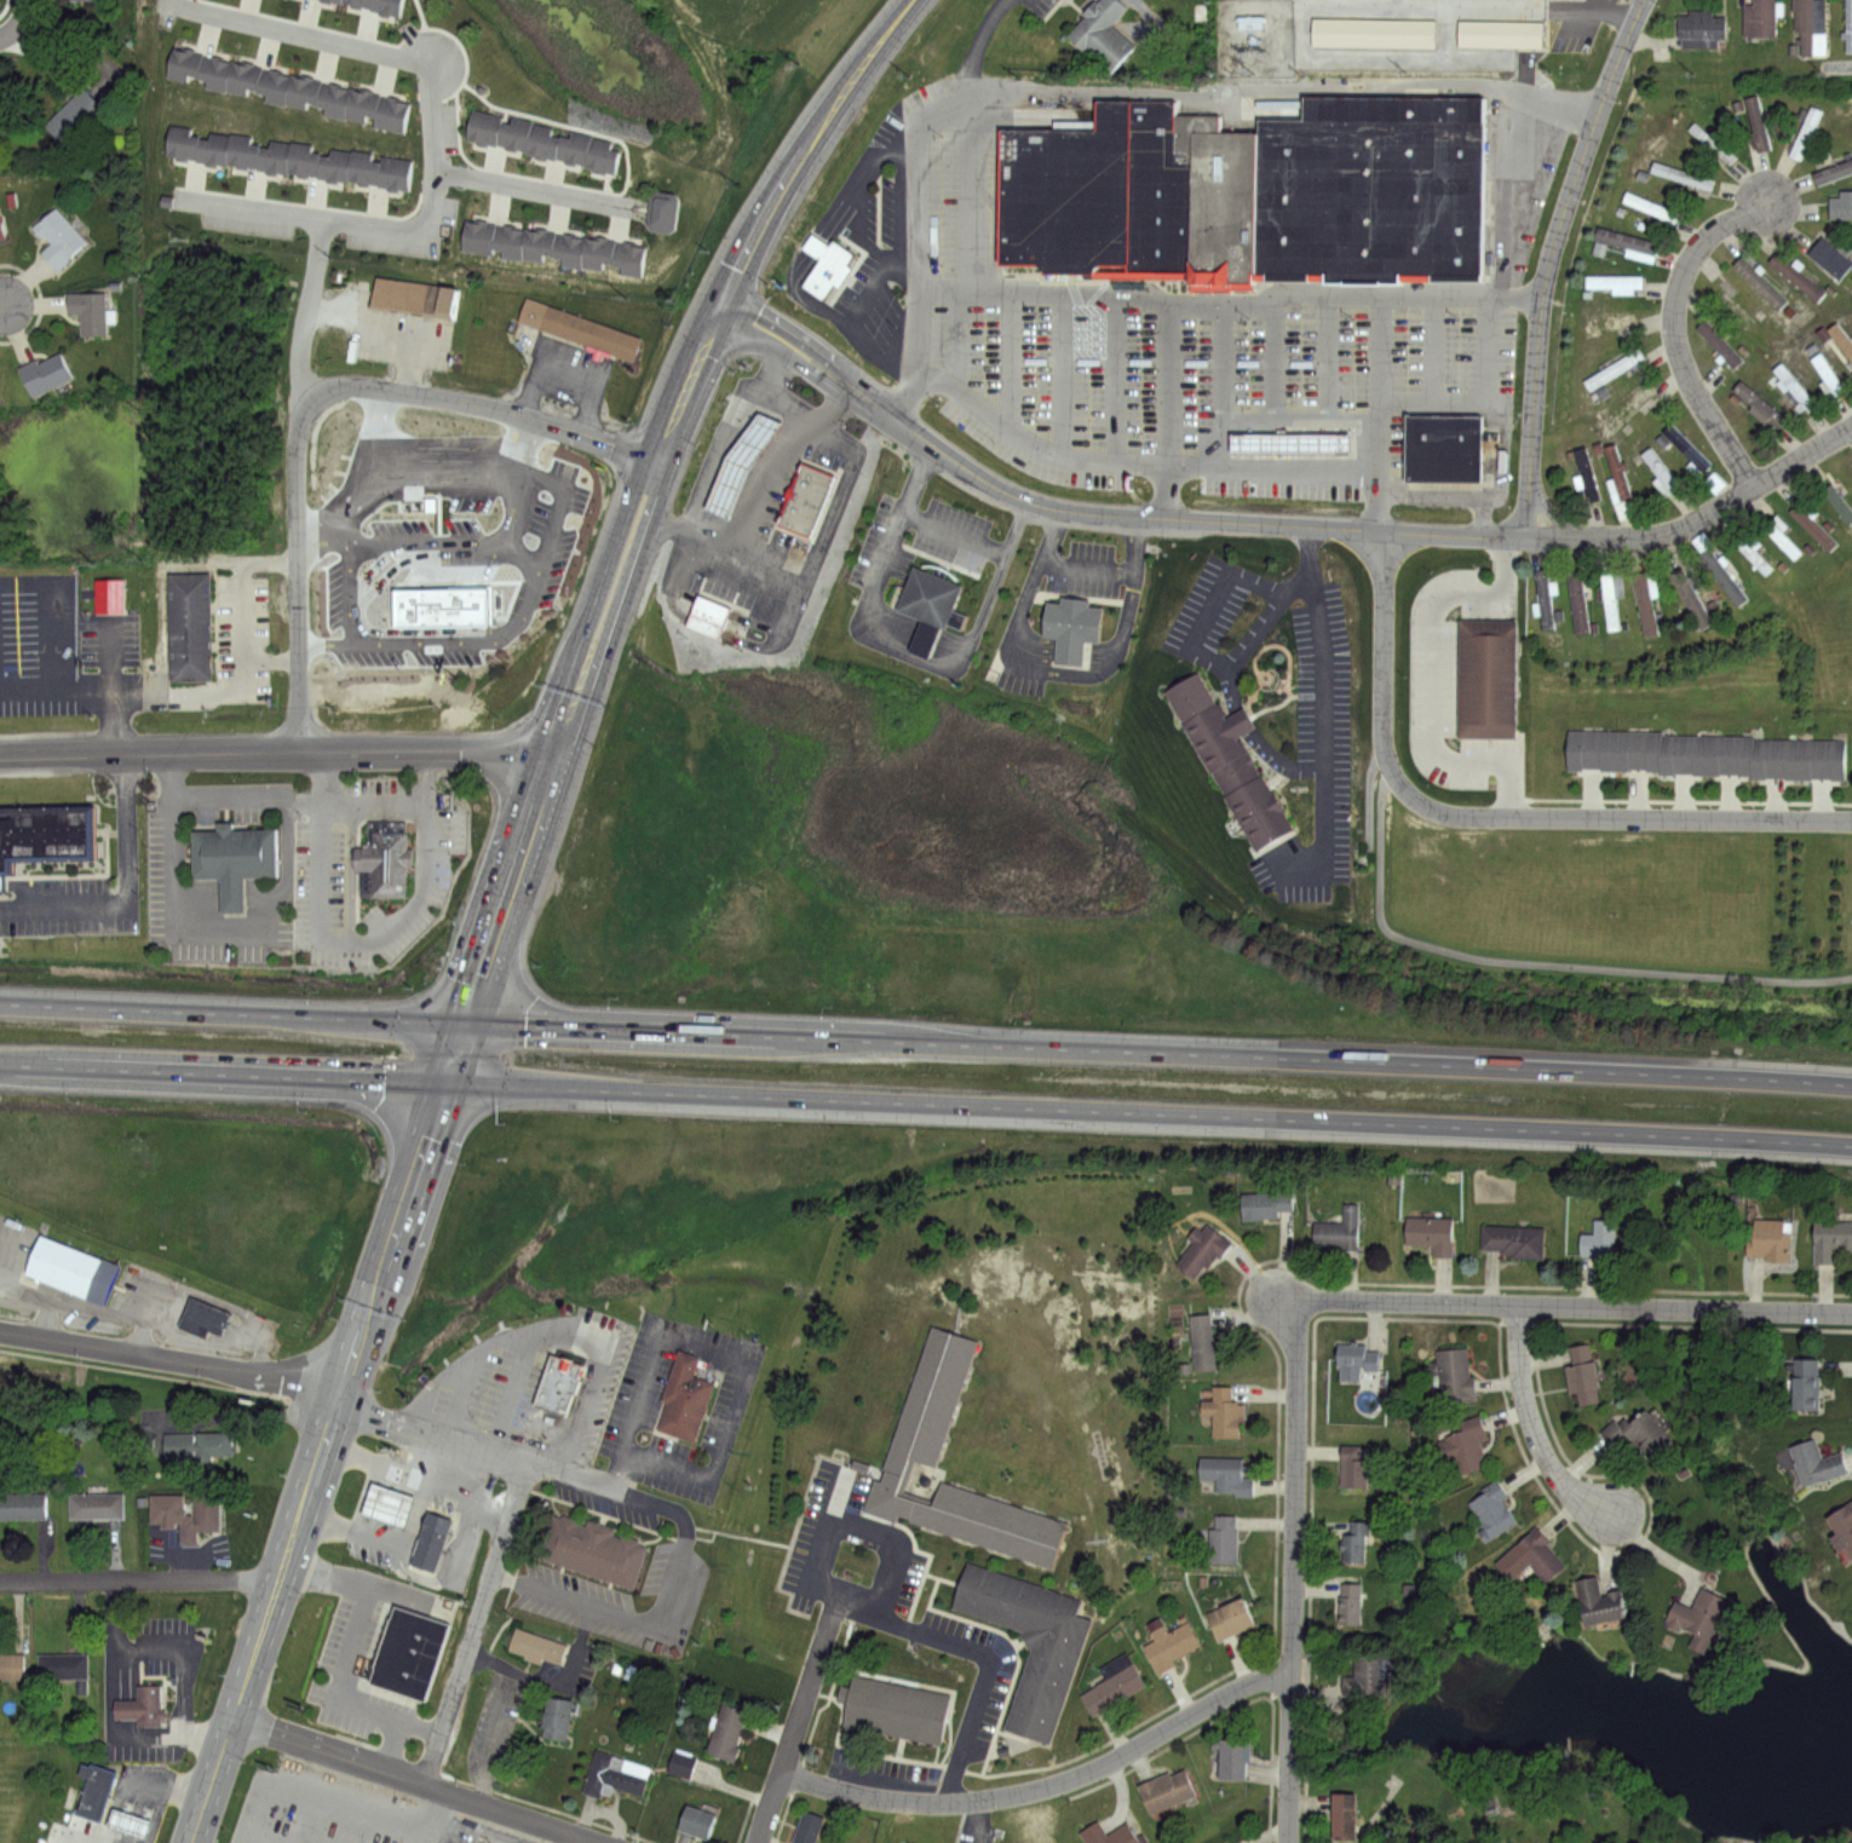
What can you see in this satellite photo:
building: (81, 0)
building: (340, 1)
building: (362, 2)
building: (1500, 4)
building: (391, 6)
road: (22, 17)
building: (1758, 18)
building: (1698, 24)
building: (1847, 25)
building: (1808, 27)
road: (300, 33)
building: (1102, 33)
building: (1375, 34)
building: (1497, 34)
road: (6, 35)
building: (186, 64)
building: (220, 73)
building: (249, 79)
building: (278, 86)
road: (1095, 88)
building: (306, 92)
building: (338, 99)
building: (367, 105)
building: (396, 114)
building: (76, 120)
building: (1755, 123)
building: (489, 128)
building: (1804, 133)
building: (519, 136)
building: (547, 143)
building: (1710, 143)
building: (185, 144)
building: (215, 148)
road: (432, 148)
building: (577, 149)
road: (809, 150)
building: (245, 151)
road: (1508, 154)
building: (277, 156)
building: (605, 156)
building: (305, 160)
building: (338, 166)
building: (366, 169)
building: (1831, 172)
building: (397, 173)
building: (1680, 175)
road: (528, 191)
building: (1248, 192)
building: (1840, 206)
building: (1649, 207)
building: (665, 212)
road: (307, 220)
building: (2, 229)
building: (472, 236)
building: (62, 238)
building: (488, 238)
building: (1624, 240)
building: (511, 241)
building: (540, 243)
building: (571, 248)
building: (600, 253)
building: (625, 255)
building: (1828, 258)
building: (638, 260)
road: (1549, 260)
building: (829, 264)
building: (1795, 277)
building: (1612, 282)
building: (1758, 282)
building: (413, 298)
road: (1381, 305)
road: (1, 306)
building: (1731, 307)
traffic signals: (719, 312)
building: (93, 313)
road: (304, 316)
road: (378, 329)
building: (579, 332)
road: (1674, 332)
building: (1837, 339)
building: (1718, 344)
parking lot: (1155, 349)
building: (1611, 370)
building: (1824, 373)
building: (46, 374)
road: (688, 386)
building: (1793, 387)
building: (1758, 404)
road: (504, 410)
road: (807, 414)
road: (1034, 442)
road: (447, 445)
building: (1686, 447)
building: (1442, 451)
road: (718, 454)
road: (1295, 465)
building: (736, 466)
building: (1616, 473)
building: (1658, 474)
building: (1584, 476)
building: (1712, 483)
road: (1446, 490)
building: (809, 503)
building: (1837, 503)
building: (504, 519)
building: (1810, 525)
road: (947, 528)
road: (1272, 528)
building: (1779, 535)
road: (295, 555)
building: (1752, 555)
road: (747, 574)
building: (1721, 577)
building: (107, 595)
building: (1611, 597)
building: (1690, 598)
building: (1645, 600)
building: (1545, 601)
building: (1577, 601)
building: (930, 606)
road: (358, 612)
building: (706, 616)
building: (191, 620)
building: (1072, 629)
road: (799, 644)
road: (1198, 646)
road: (271, 656)
road: (1428, 680)
building: (1485, 681)
road: (208, 690)
road: (1317, 691)
road: (119, 722)
road: (277, 751)
building: (1695, 754)
building: (1227, 762)
road: (550, 772)
road: (329, 776)
road: (431, 776)
road: (232, 791)
road: (1491, 814)
building: (47, 842)
building: (235, 852)
building: (386, 852)
road: (128, 891)
parking lot: (77, 910)
road: (268, 926)
road: (1541, 961)
traffic signals: (466, 1025)
road: (926, 1043)
traffic signals: (447, 1085)
road: (926, 1105)
building: (1264, 1204)
building: (1336, 1229)
building: (1431, 1233)
building: (1772, 1237)
building: (1830, 1237)
building: (1514, 1240)
building: (1598, 1240)
building: (1200, 1248)
building: (75, 1262)
road: (1566, 1307)
building: (201, 1309)
road: (576, 1327)
building: (1200, 1341)
road: (726, 1353)
road: (173, 1355)
building: (1356, 1360)
road: (458, 1364)
building: (1582, 1373)
building: (1450, 1376)
building: (1805, 1383)
building: (557, 1386)
road: (461, 1395)
building: (931, 1399)
building: (688, 1400)
building: (1224, 1411)
road: (1532, 1428)
building: (1647, 1432)
building: (200, 1444)
building: (1466, 1444)
road: (484, 1449)
building: (1812, 1461)
road: (320, 1464)
building: (1352, 1468)
building: (1227, 1473)
road: (421, 1493)
road: (474, 1496)
building: (23, 1505)
building: (99, 1505)
building: (387, 1508)
building: (1491, 1510)
road: (493, 1514)
building: (203, 1519)
road: (326, 1520)
building: (1841, 1526)
road: (372, 1536)
building: (1220, 1538)
building: (430, 1542)
building: (1355, 1542)
building: (592, 1548)
building: (1538, 1554)
road: (1295, 1570)
road: (139, 1584)
road: (856, 1599)
building: (1597, 1602)
building: (1347, 1603)
road: (111, 1614)
building: (1698, 1615)
building: (1226, 1618)
road: (654, 1619)
road: (473, 1623)
road: (350, 1628)
road: (138, 1642)
building: (1168, 1643)
building: (540, 1647)
building: (410, 1655)
building: (64, 1659)
building: (12, 1661)
building: (1363, 1676)
building: (1043, 1682)
building: (1111, 1683)
road: (976, 1701)
building: (142, 1704)
parking lot: (982, 1706)
building: (895, 1710)
road: (800, 1718)
building: (557, 1720)
road: (393, 1721)
building: (726, 1730)
building: (1232, 1756)
building: (678, 1763)
building: (617, 1775)
road: (413, 1781)
road: (1048, 1785)
building: (94, 1790)
building: (1163, 1790)
road: (329, 1796)
building: (1344, 1815)
building: (125, 1821)
building: (696, 1824)
road: (968, 1824)
building: (805, 1828)
building: (1108, 1835)
road: (79, 1837)
building: (902, 1842)
building: (907, 1842)

